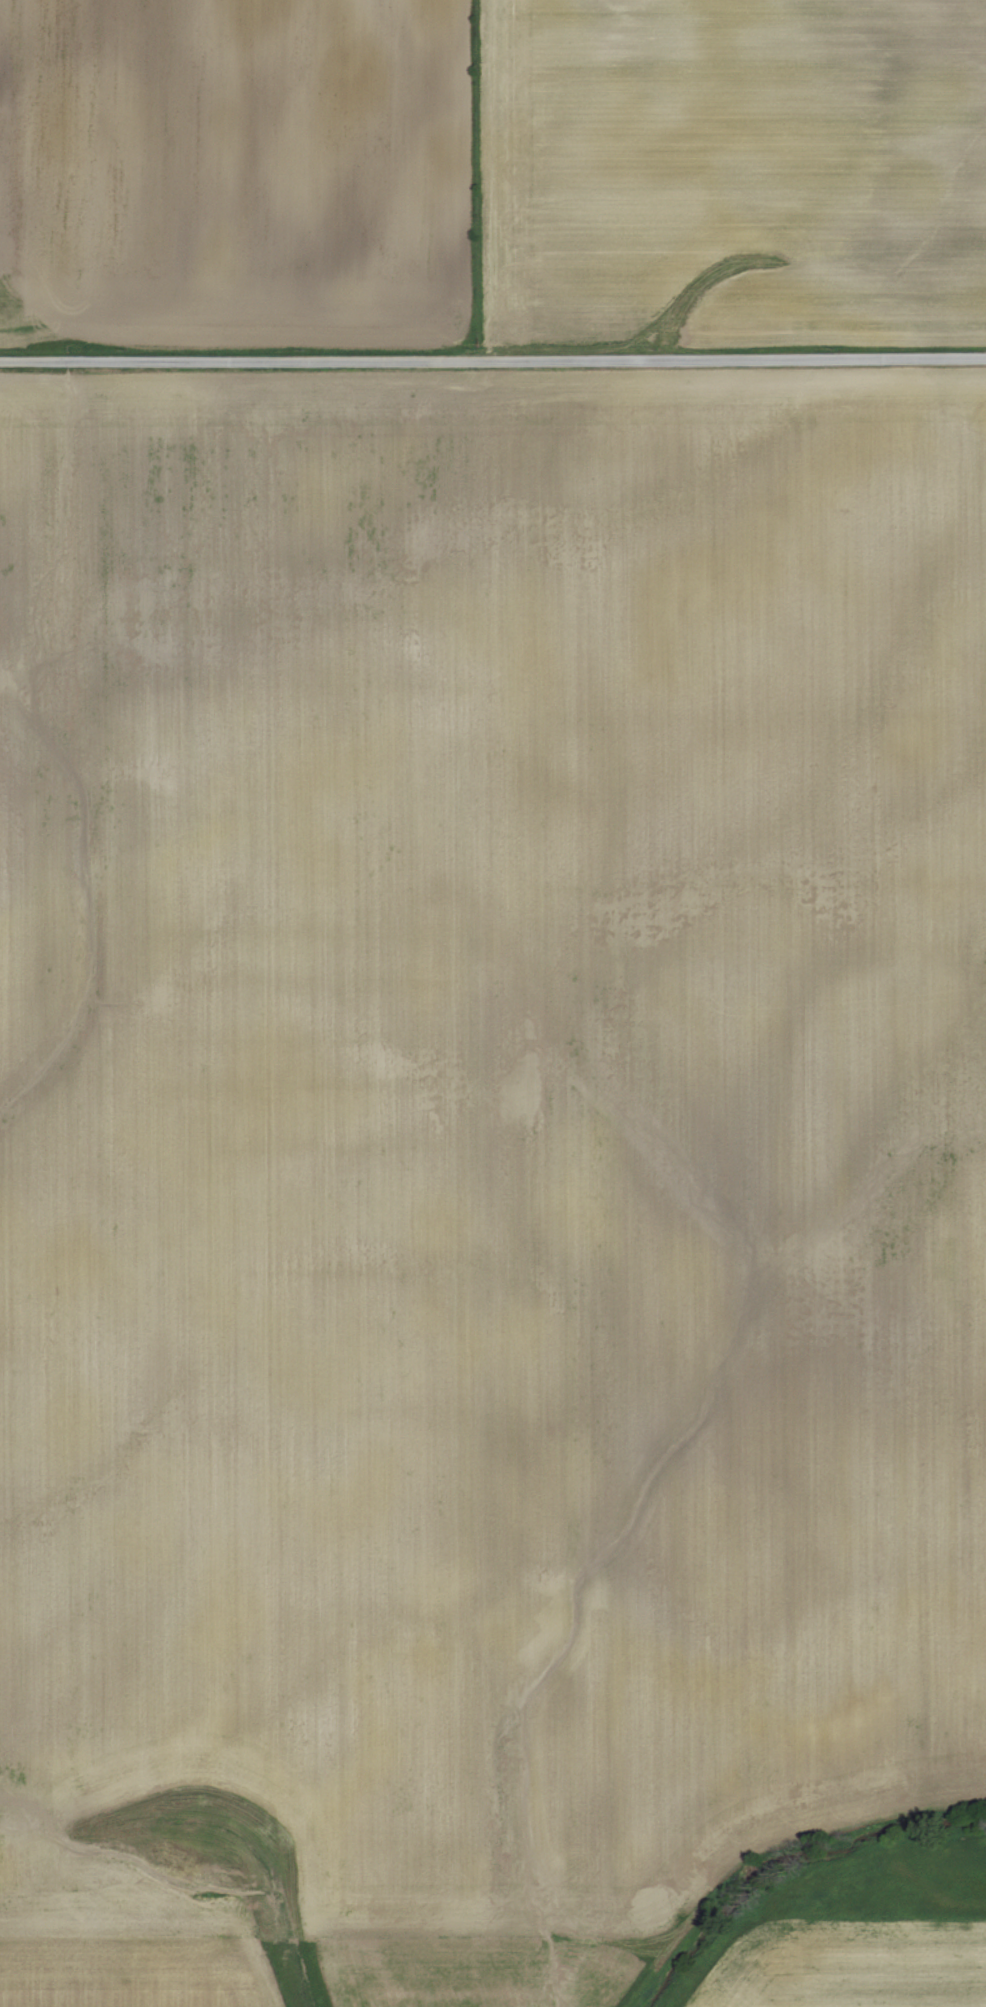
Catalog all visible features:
road: (493, 358)

